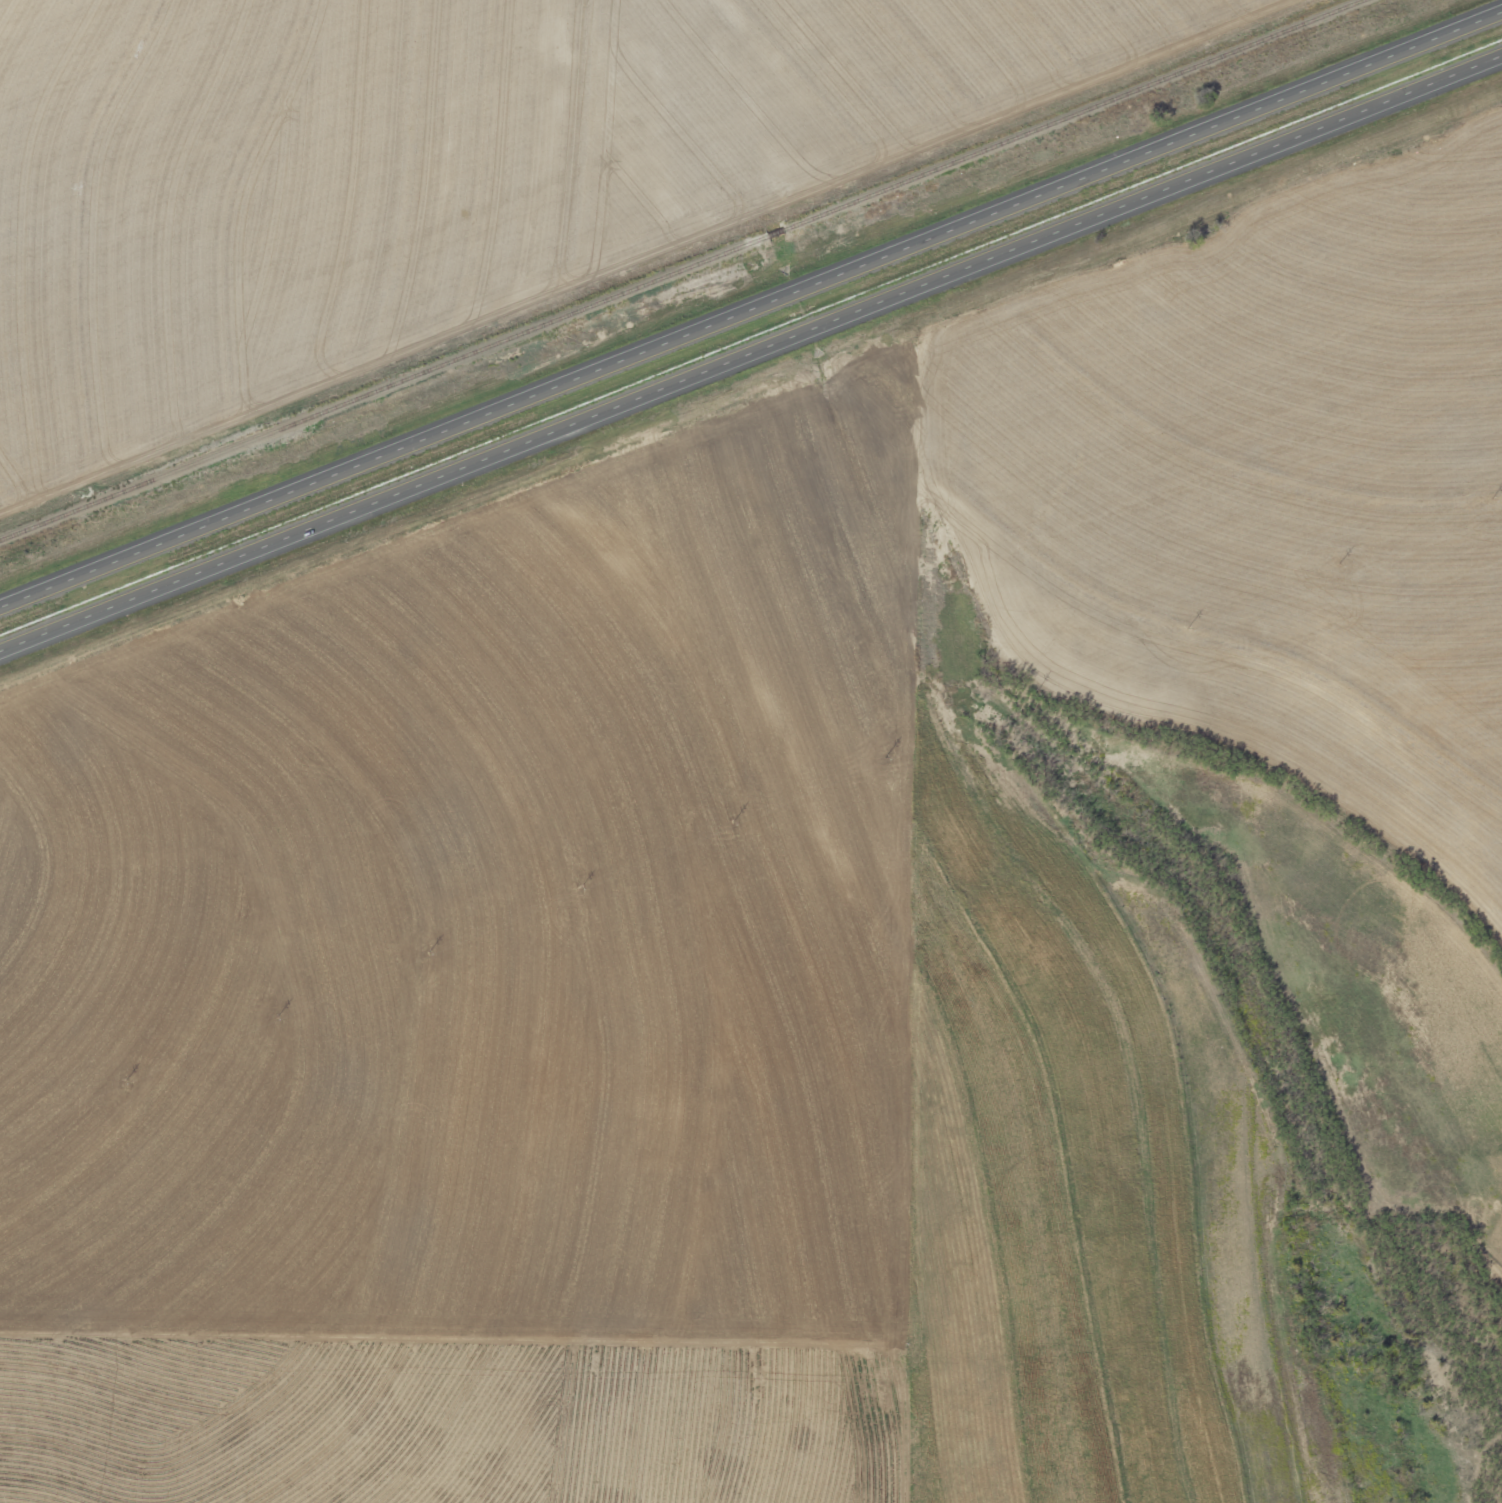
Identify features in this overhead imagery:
railway: (682, 268)
road: (751, 315)
road: (751, 359)
road: (745, 467)
road: (936, 1084)

